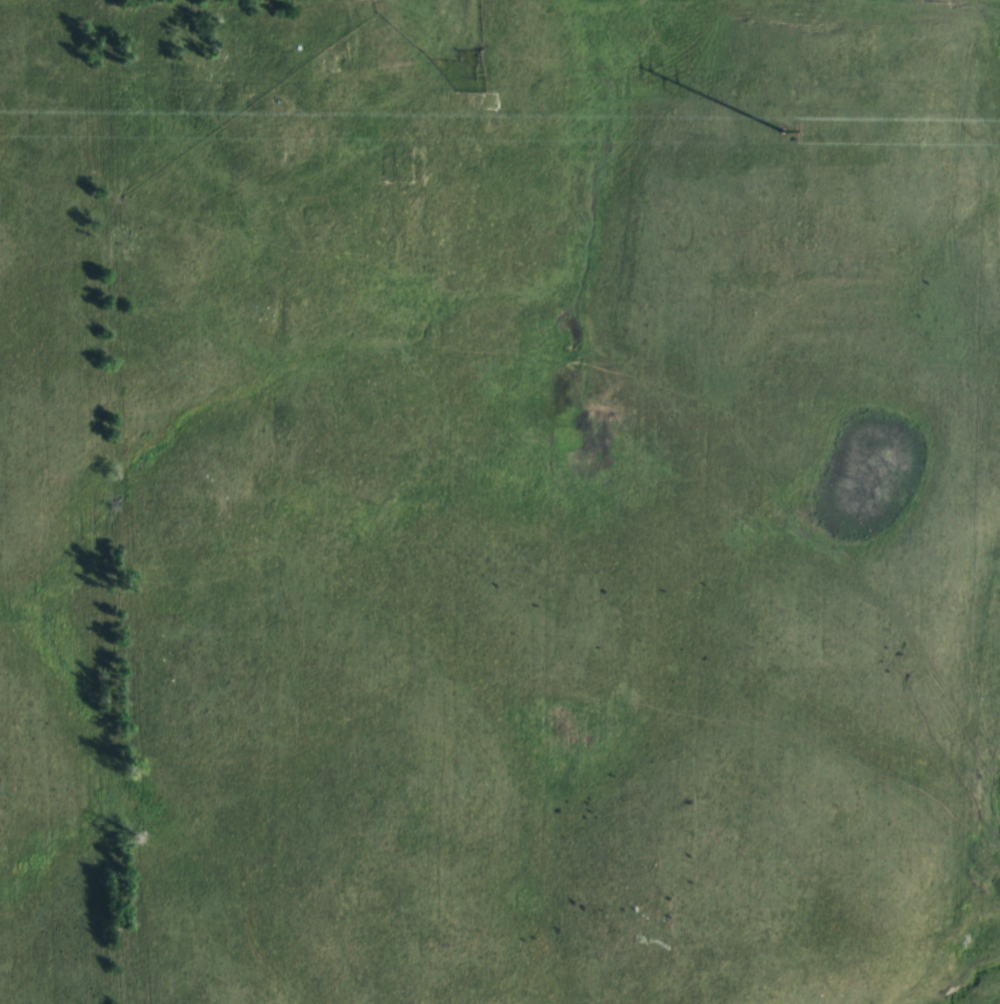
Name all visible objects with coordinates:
power tower: (784, 128)

